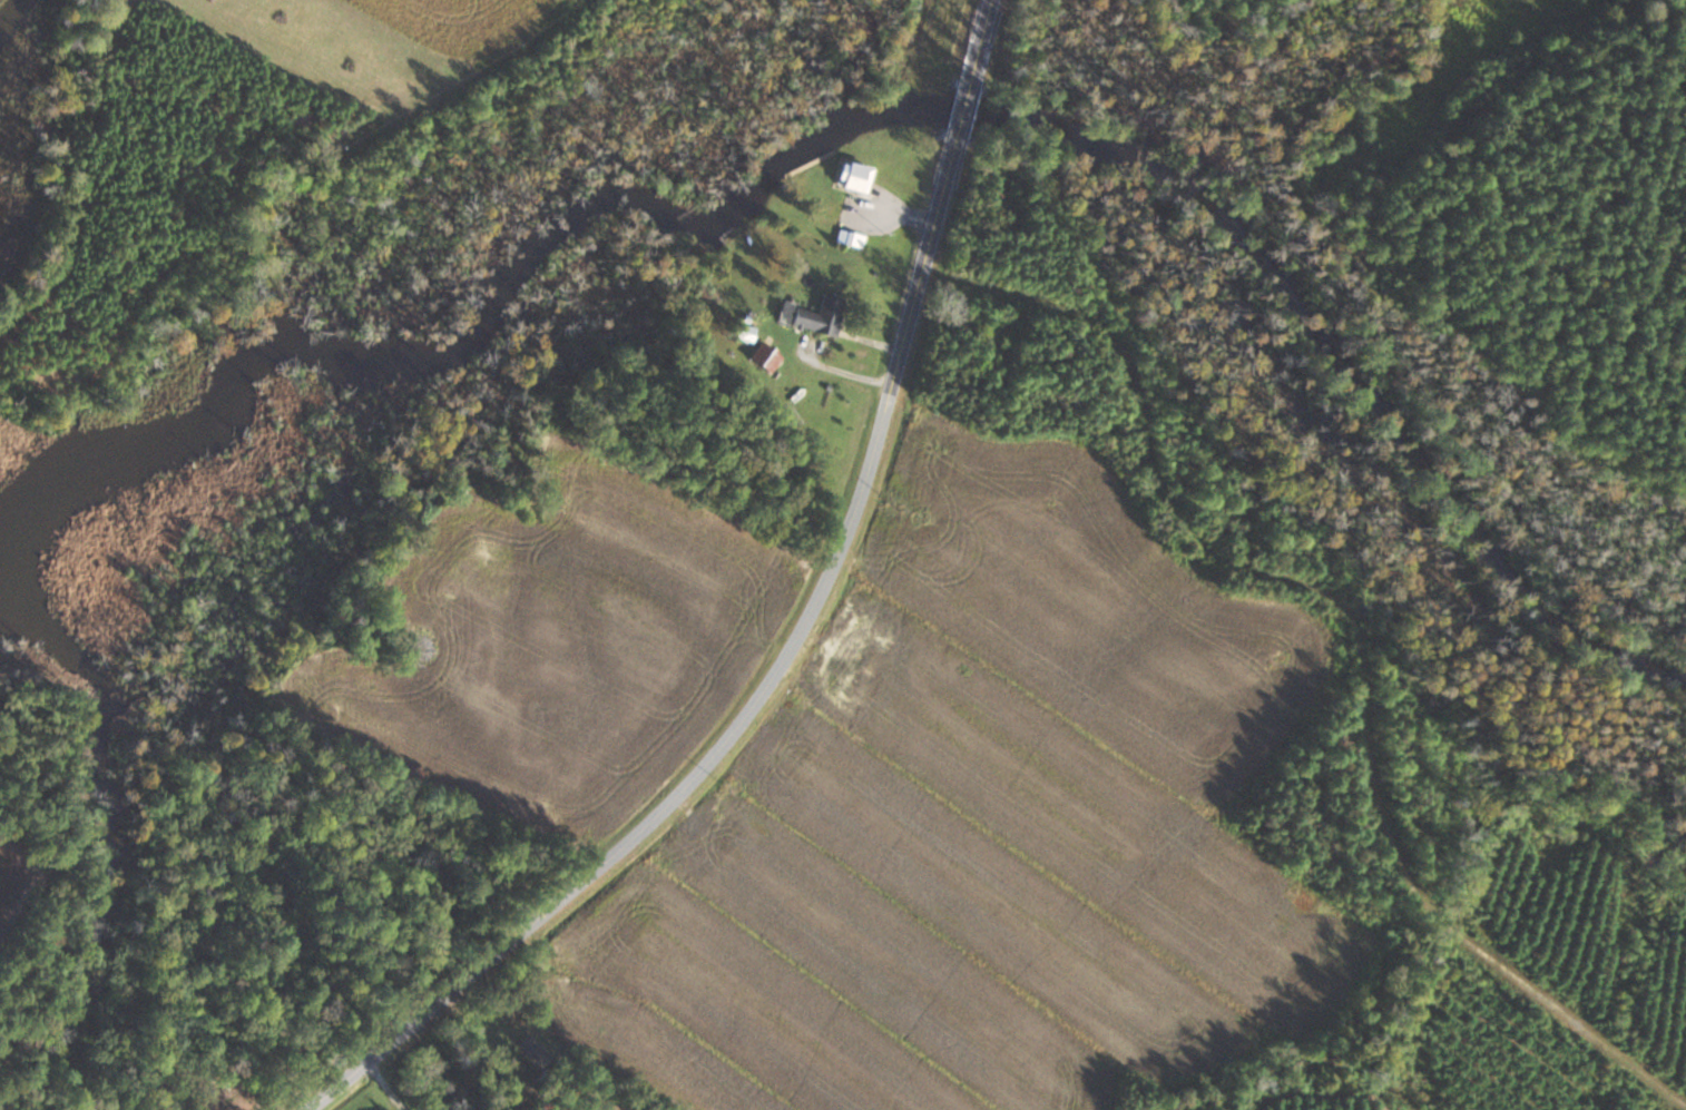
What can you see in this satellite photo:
building: (851, 176)
building: (819, 315)
building: (764, 357)
building: (852, 615)
road: (792, 642)
building: (837, 687)

